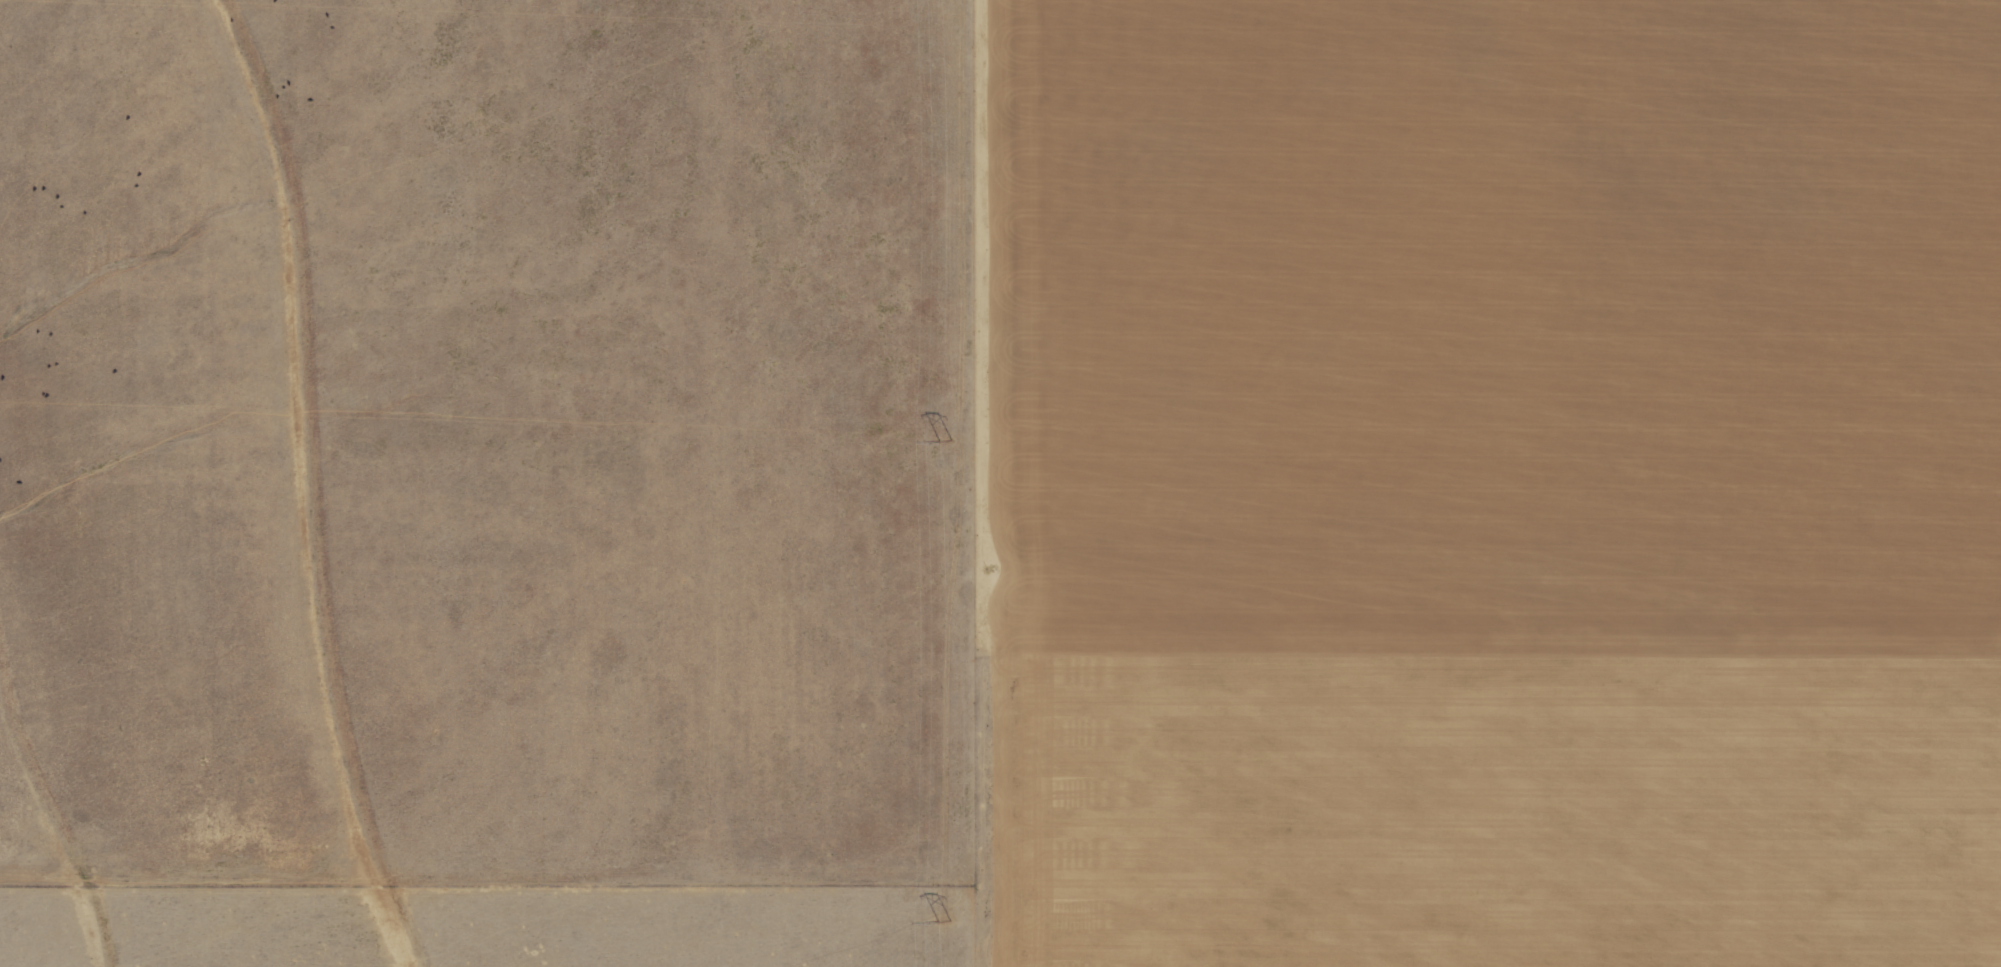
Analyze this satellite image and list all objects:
power tower: (944, 440)
road: (855, 479)
power tower: (940, 924)

